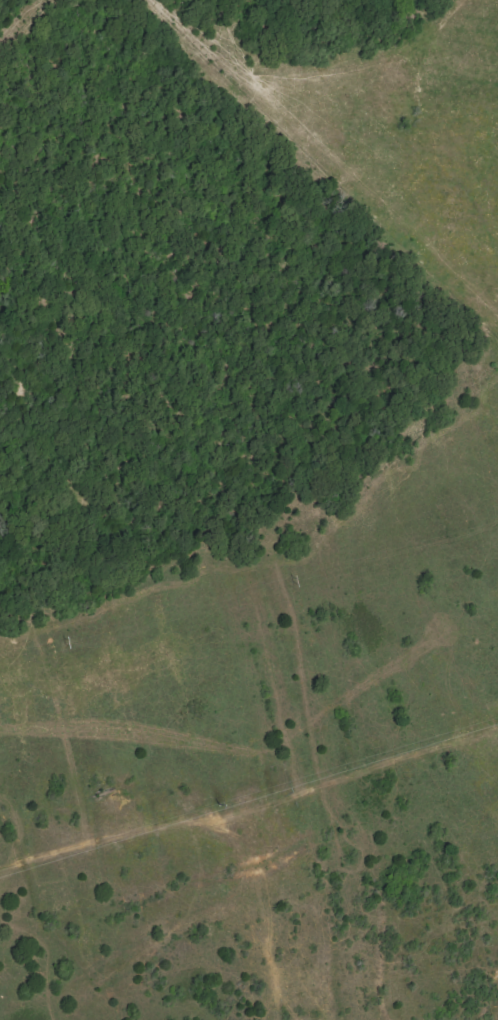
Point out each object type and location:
power tower: (295, 580)
power tower: (67, 642)

